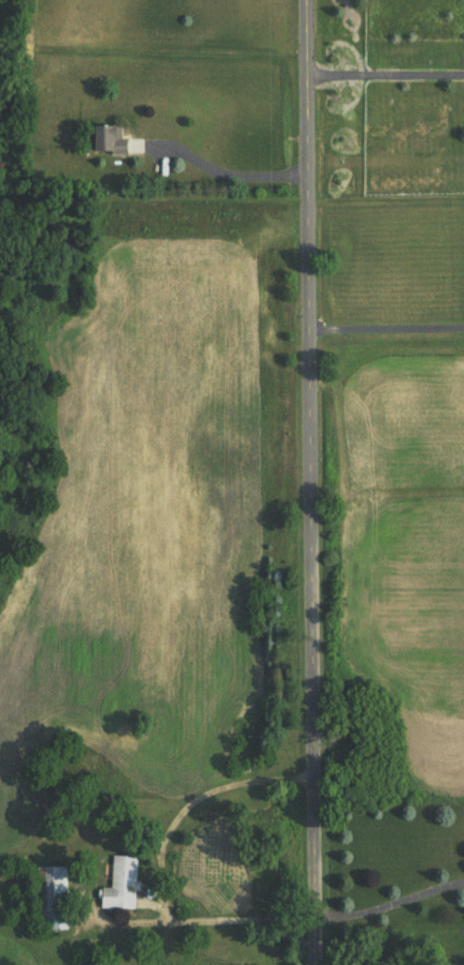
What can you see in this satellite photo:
road: (385, 64)
building: (114, 140)
road: (223, 165)
road: (387, 323)
road: (312, 482)
road: (192, 800)
building: (122, 885)
building: (55, 898)
road: (390, 902)
road: (181, 917)

